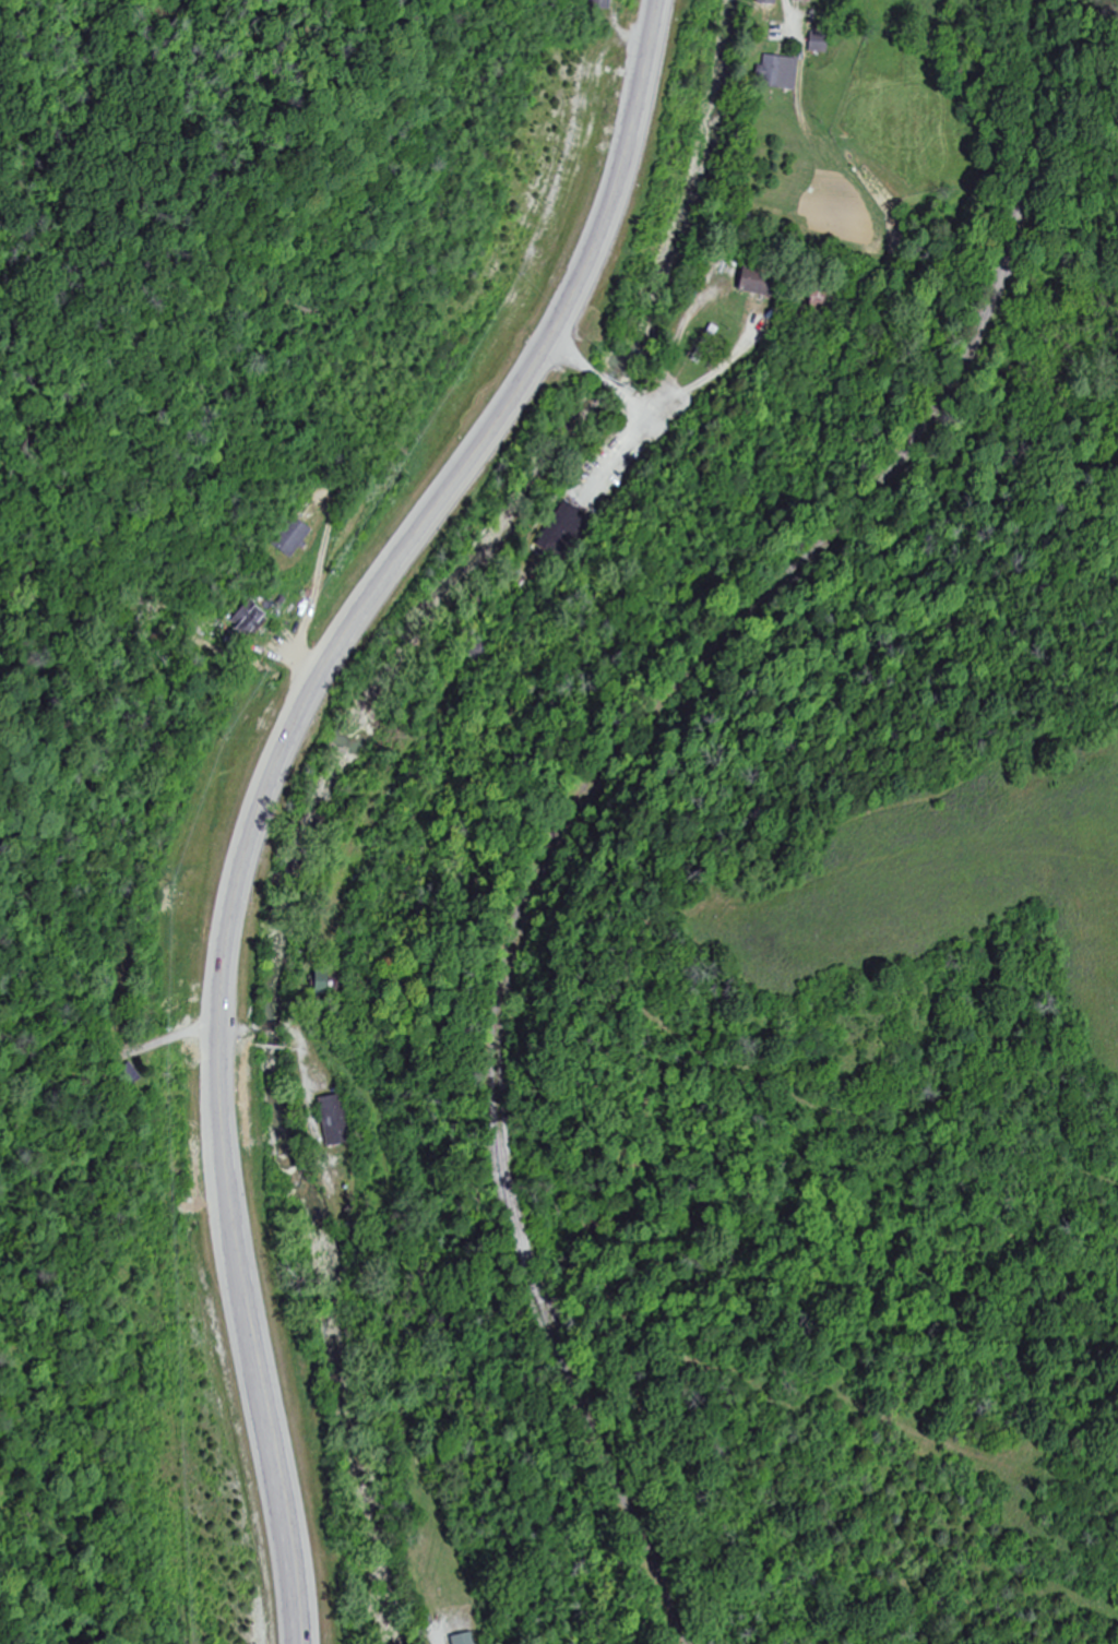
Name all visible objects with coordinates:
road: (790, 16)
road: (649, 43)
road: (567, 355)
road: (607, 383)
road: (661, 385)
road: (634, 401)
building: (559, 529)
road: (331, 656)
railway: (605, 777)
road: (277, 1464)

